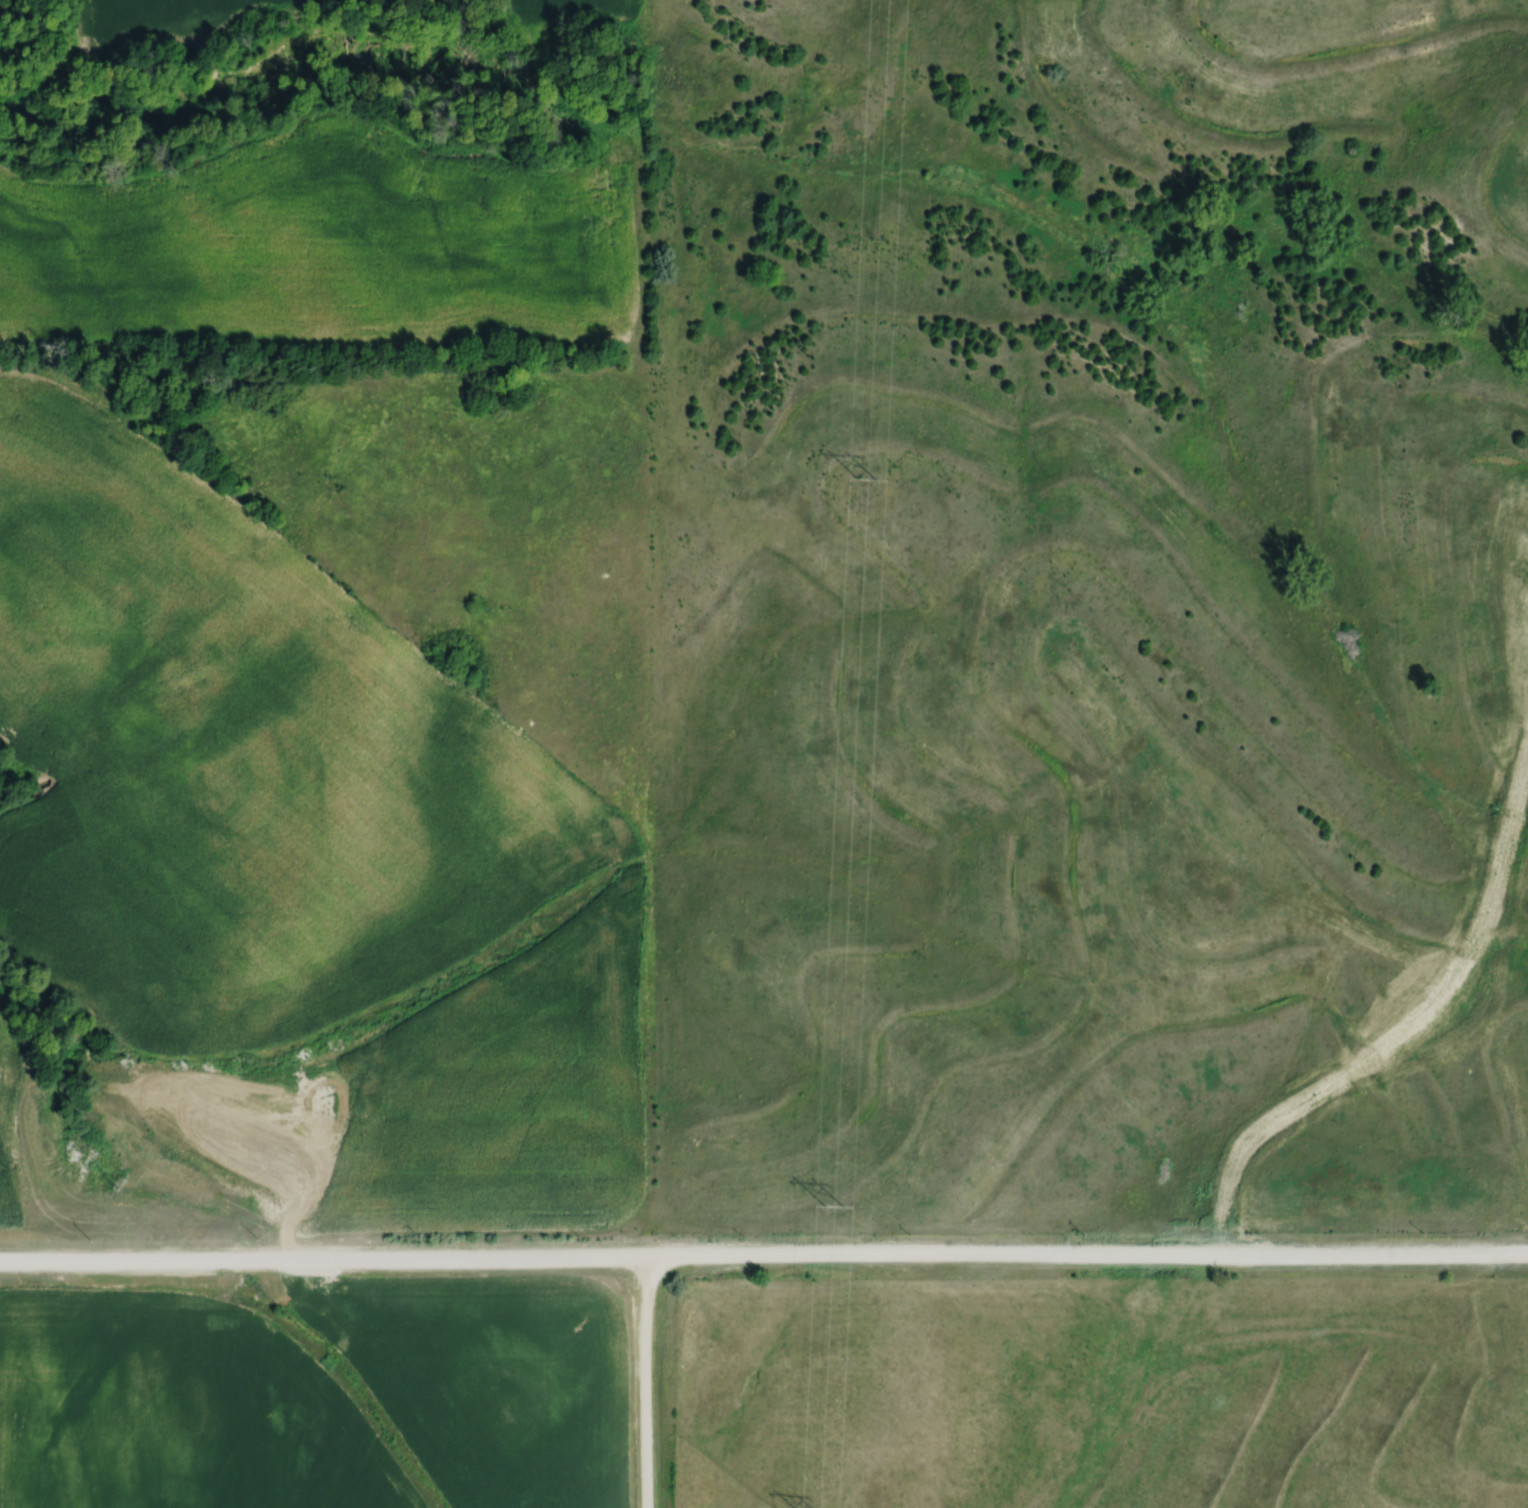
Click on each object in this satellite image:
power tower: (869, 483)
power tower: (838, 1214)
road: (763, 1259)
road: (646, 1384)

